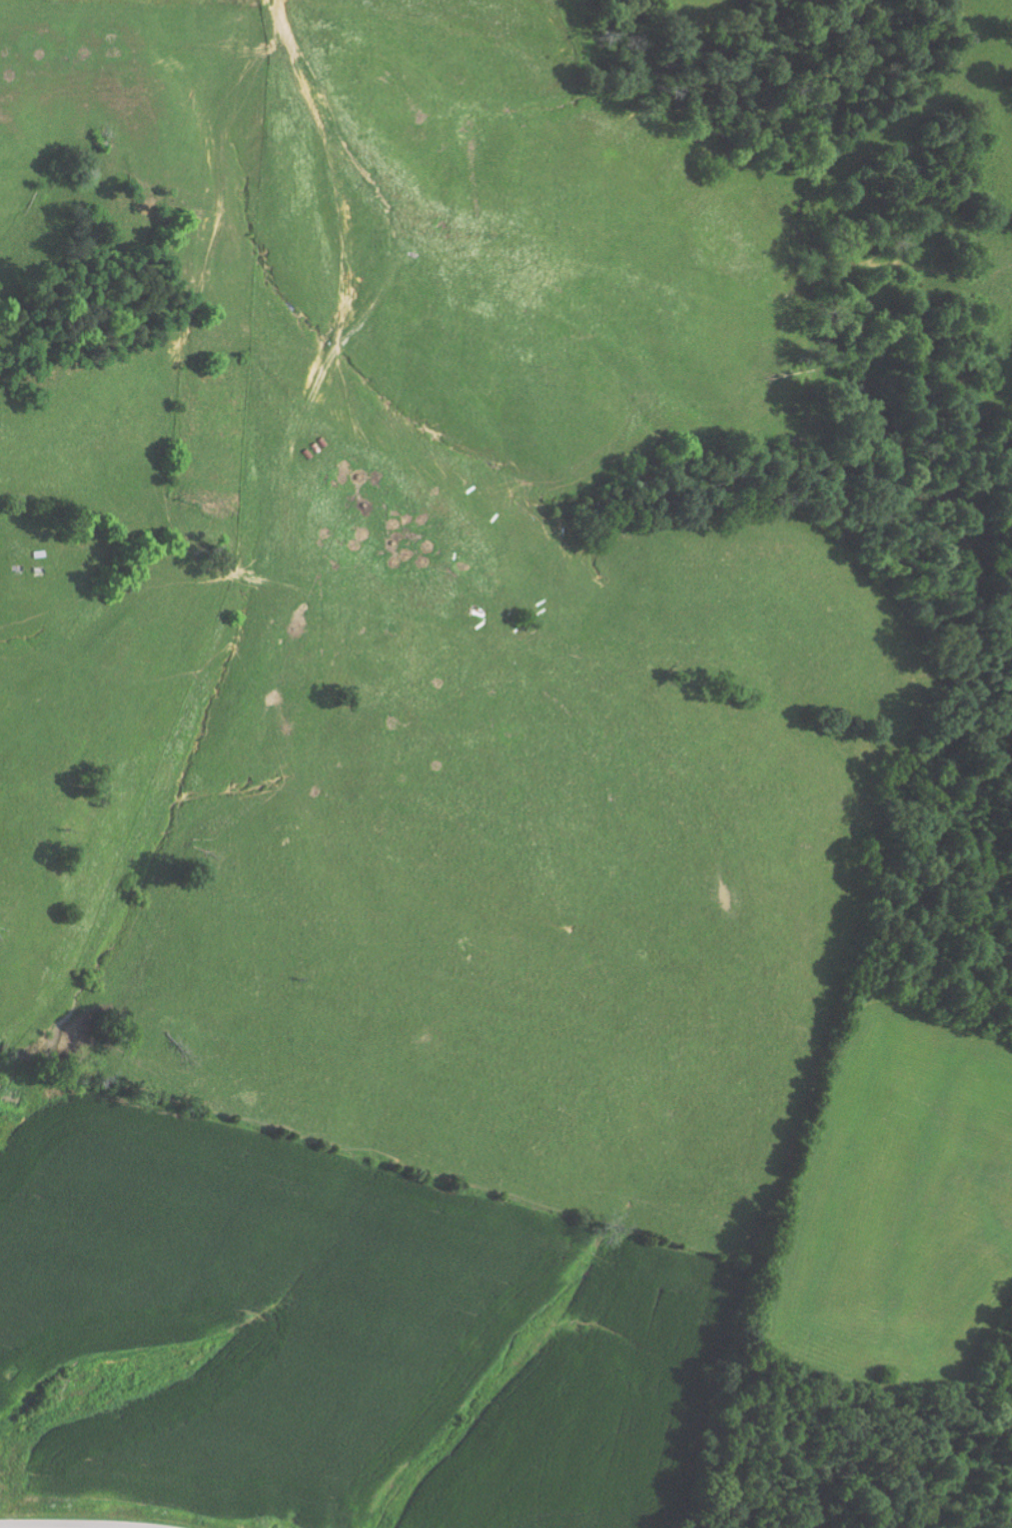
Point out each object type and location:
road: (74, 1524)

